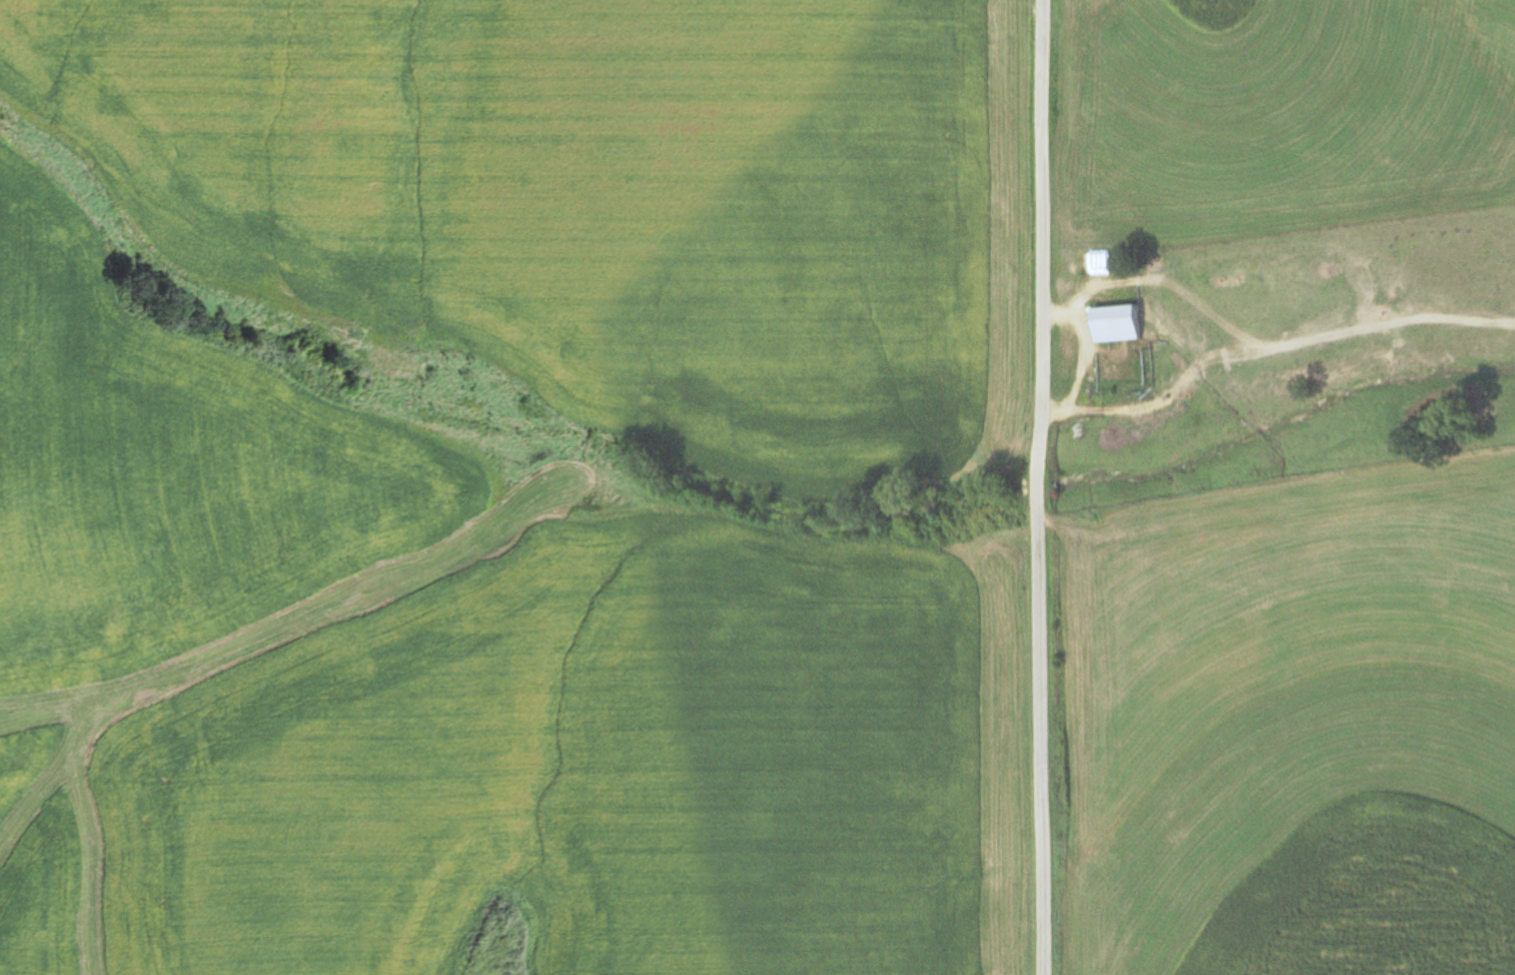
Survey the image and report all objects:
building: (1120, 324)
road: (1273, 348)
road: (1042, 487)

